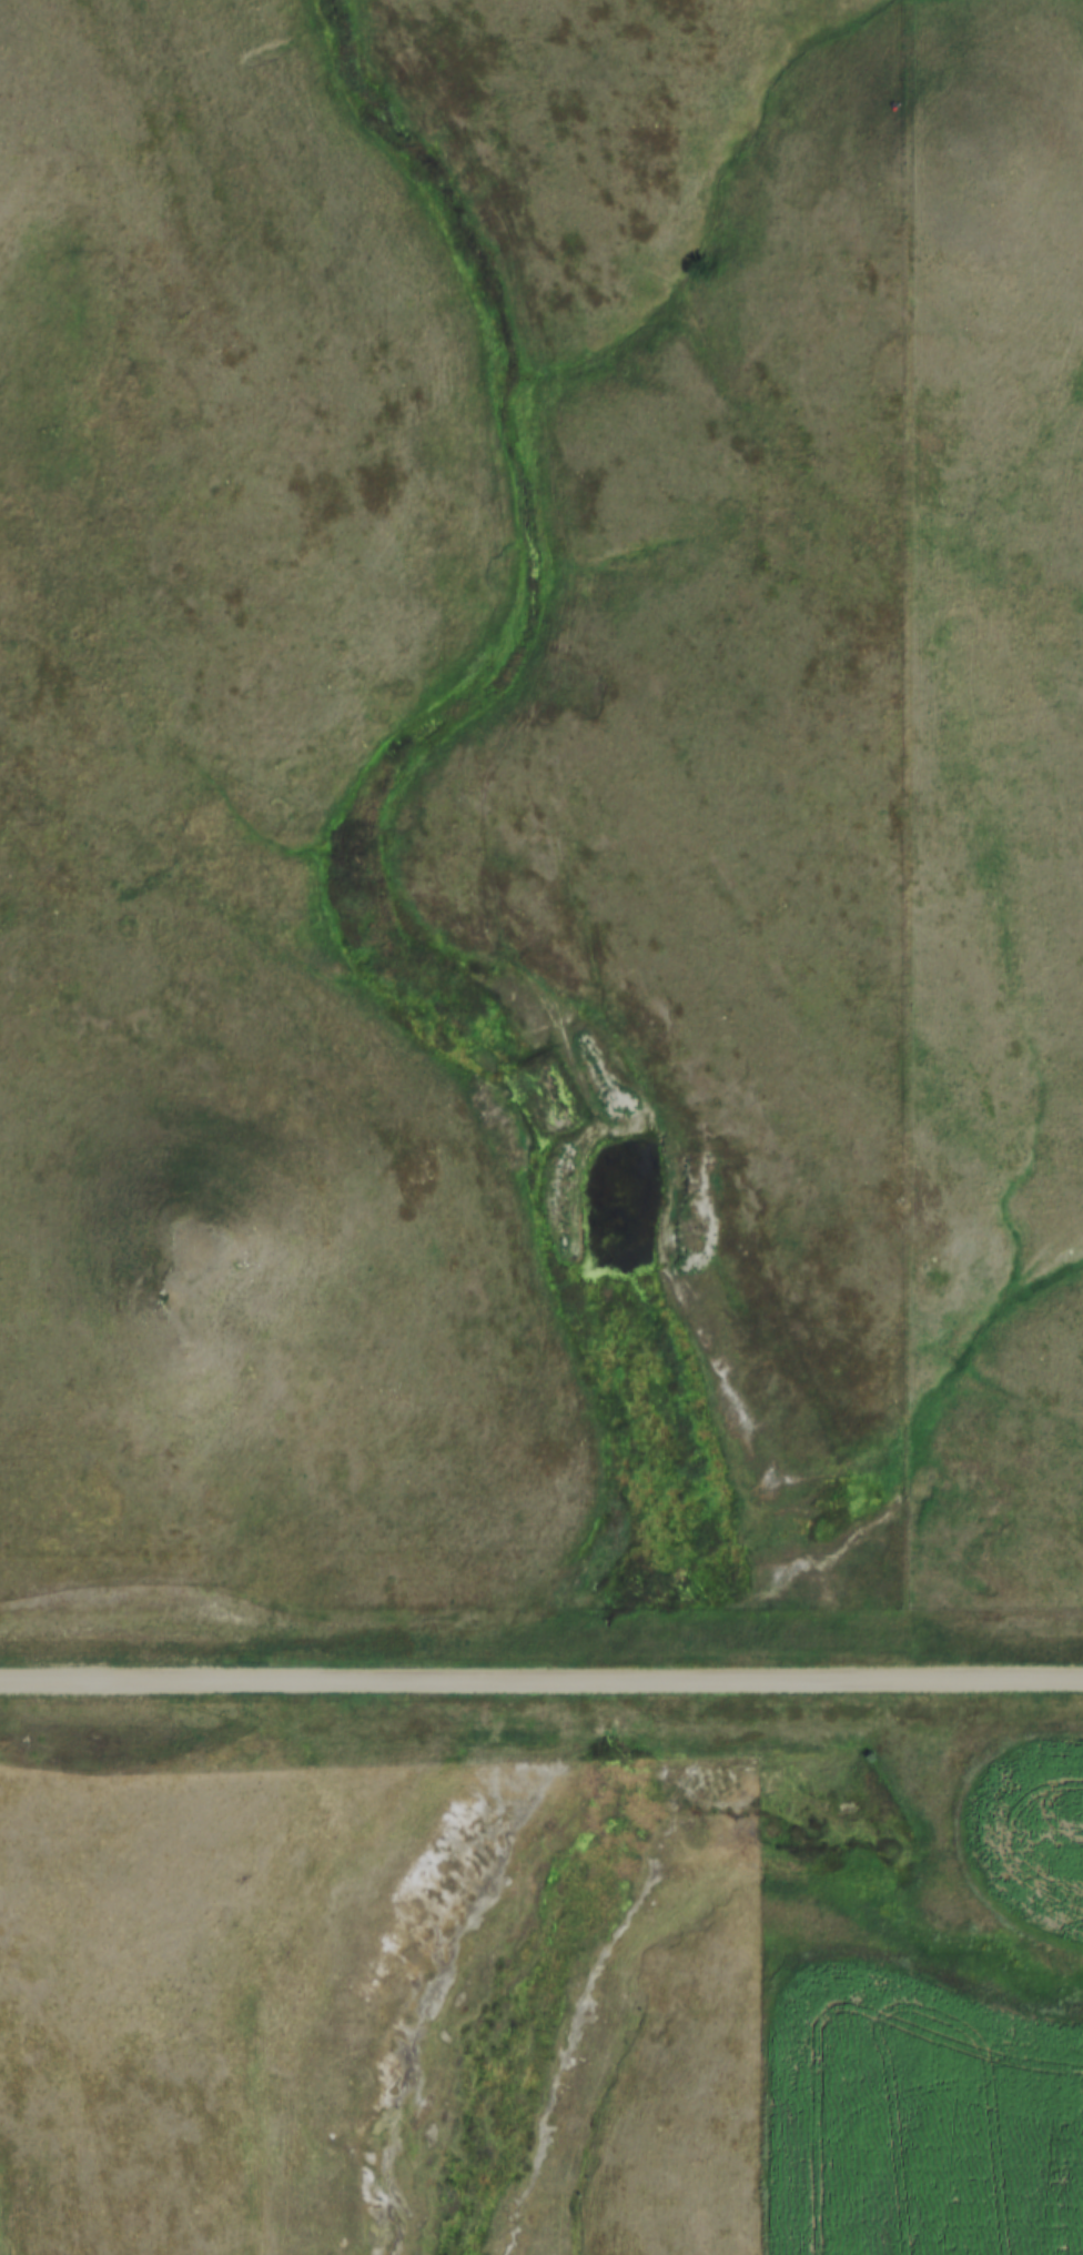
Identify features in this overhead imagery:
road: (541, 1678)

